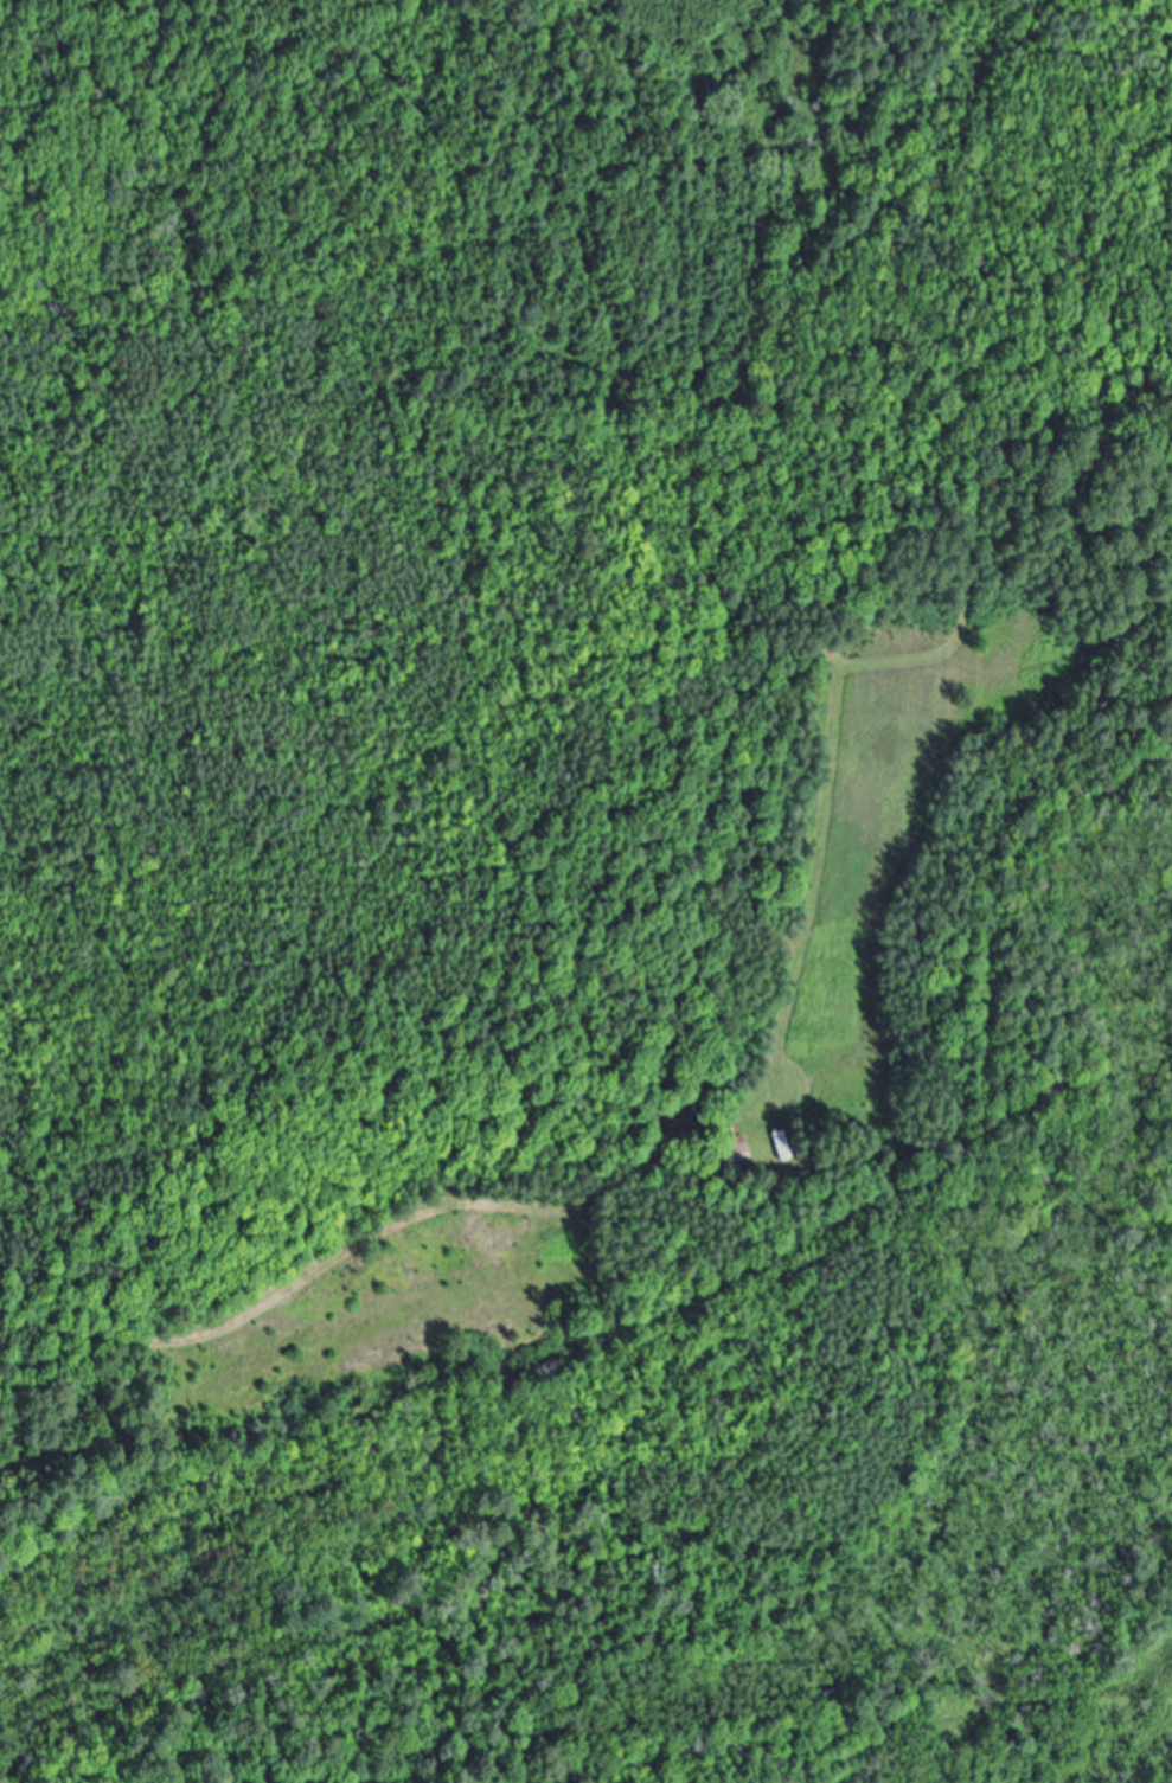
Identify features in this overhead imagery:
building: (783, 1146)
building: (735, 1155)
road: (339, 1258)

